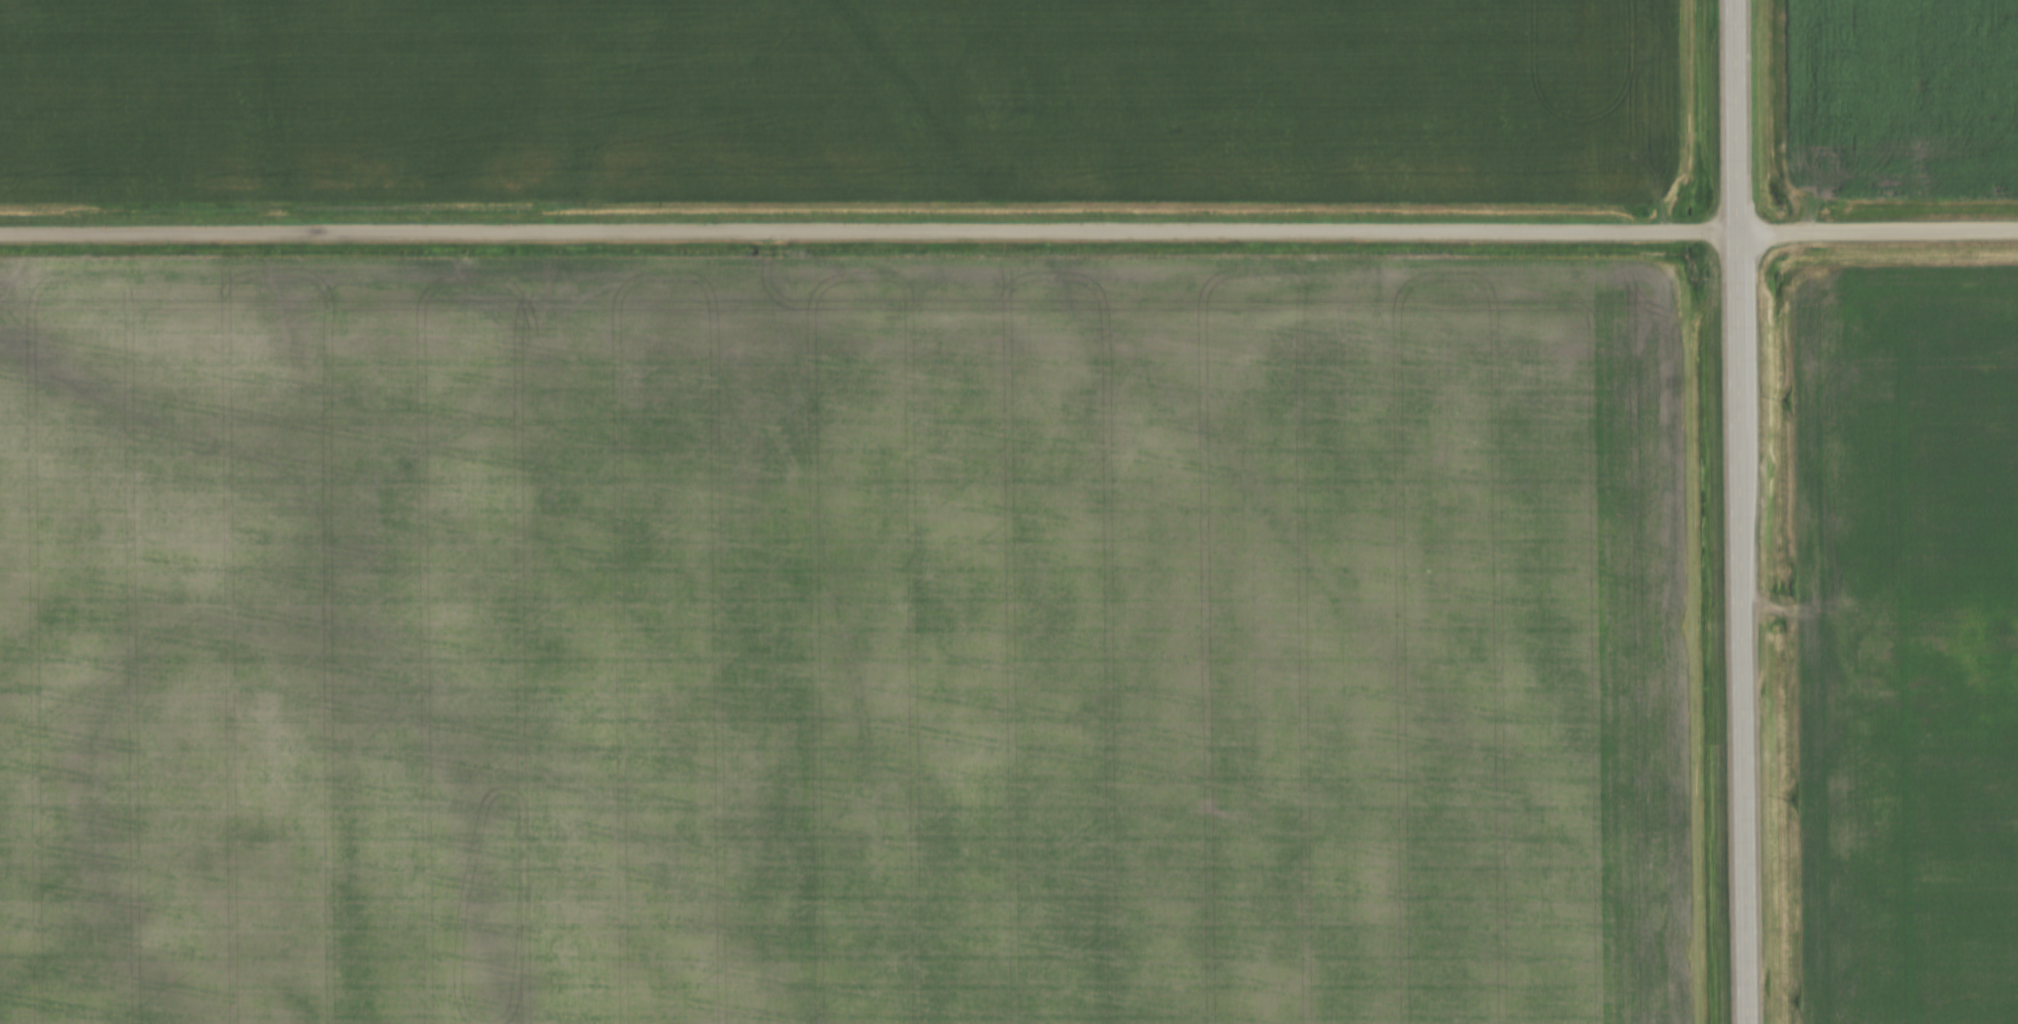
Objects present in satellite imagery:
crop: (837, 101)
road: (870, 231)
road: (1880, 233)
road: (1744, 512)

